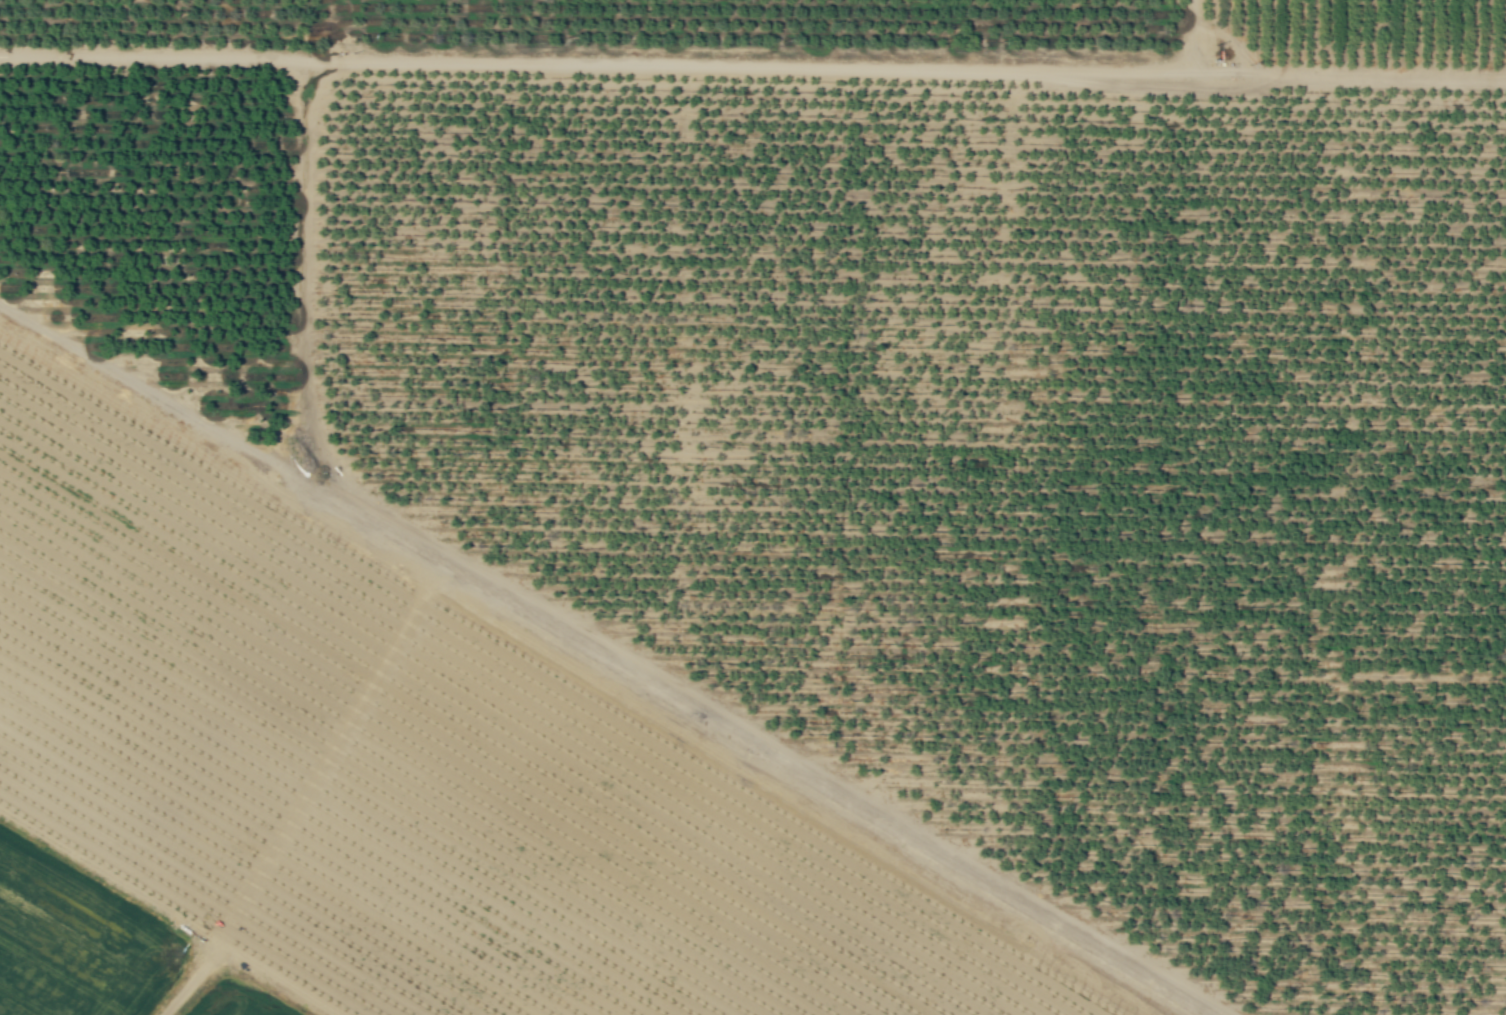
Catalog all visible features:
road: (753, 71)

